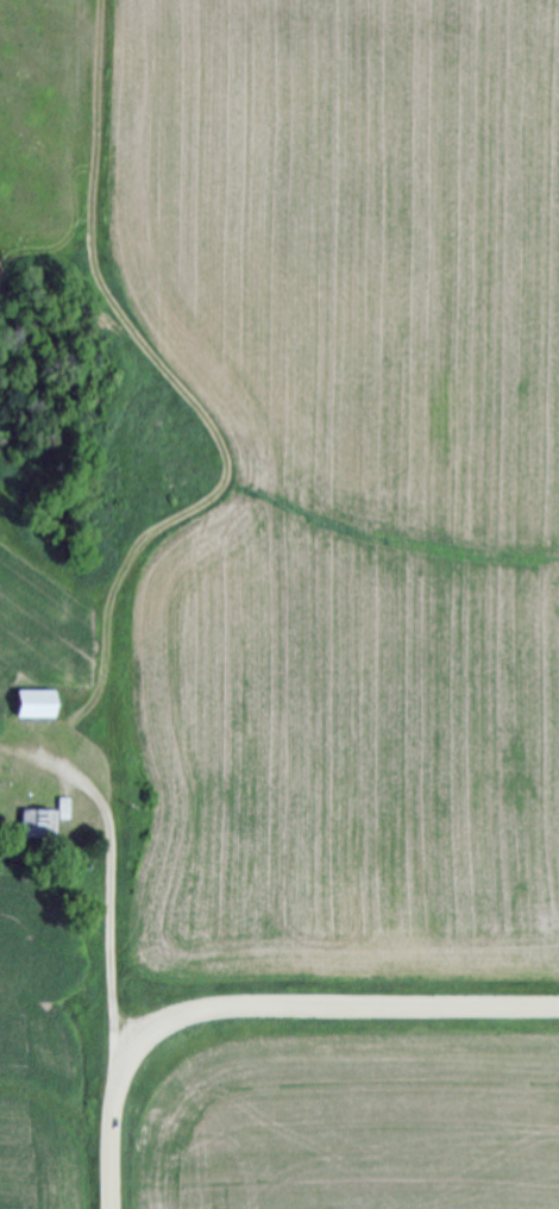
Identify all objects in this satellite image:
building: (29, 704)
building: (42, 820)
road: (115, 879)
road: (324, 1011)
road: (113, 1144)

